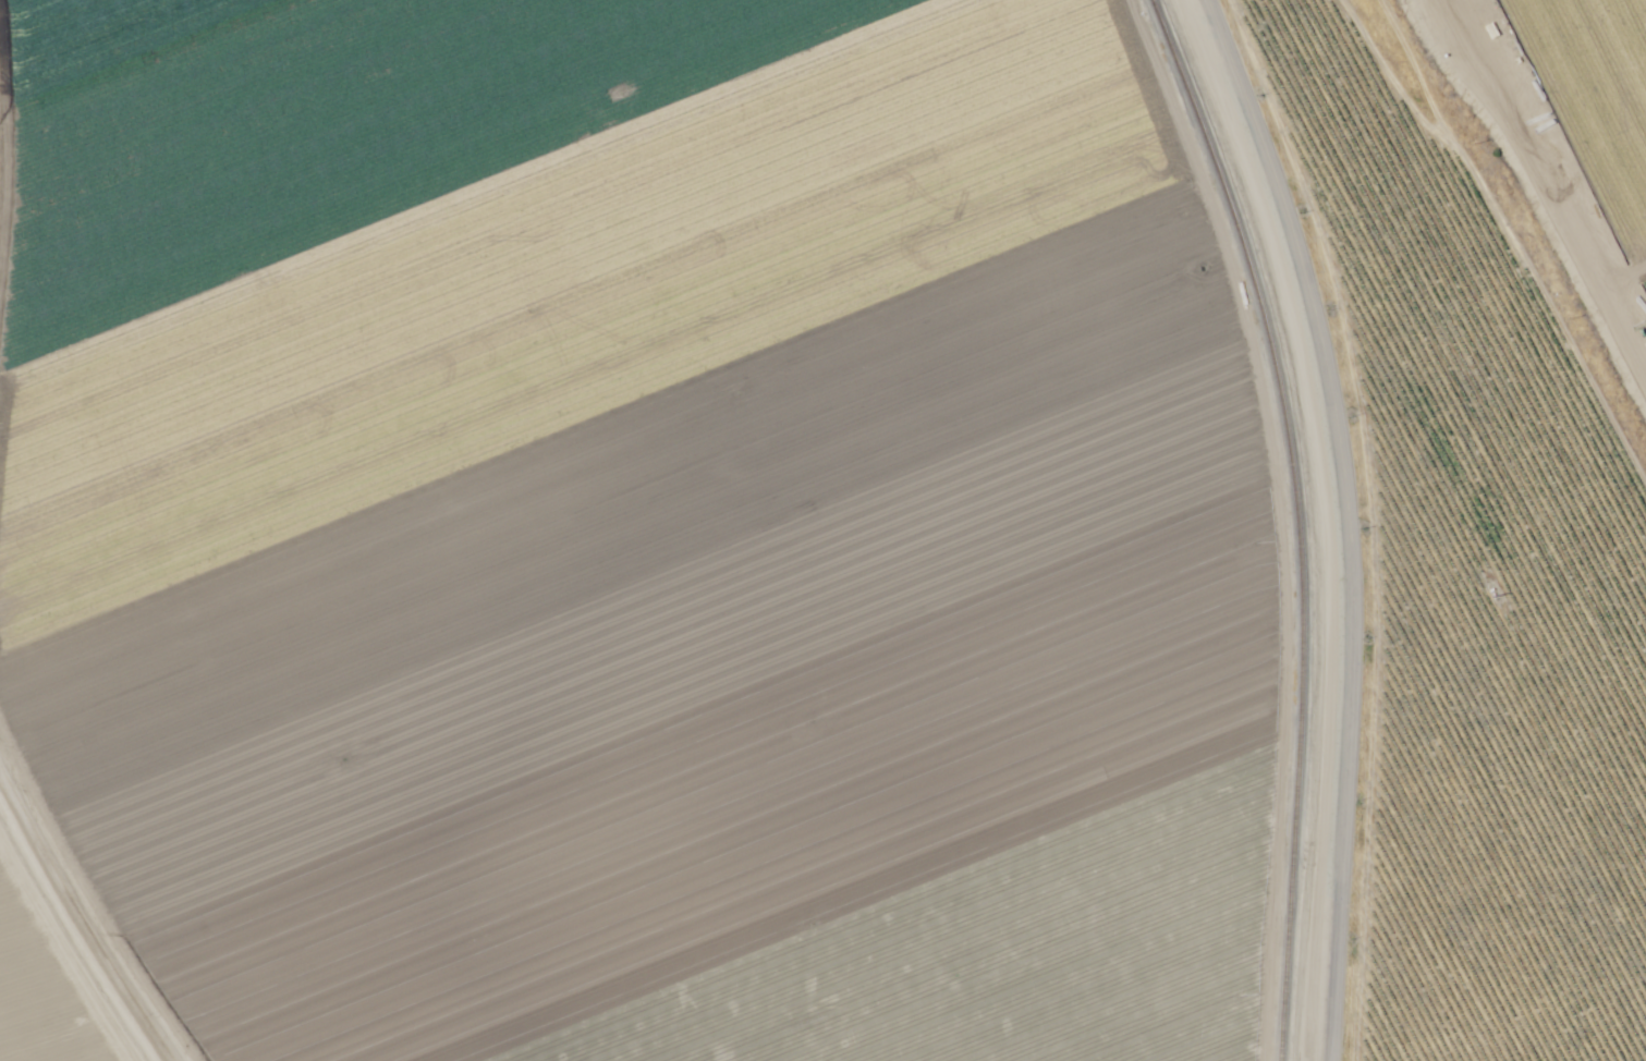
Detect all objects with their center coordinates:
road: (44, 15)
railway: (1166, 29)
road: (1605, 136)
crop: (1491, 502)
road: (1350, 523)
crop: (613, 540)
railway: (1301, 551)
road: (50, 939)

